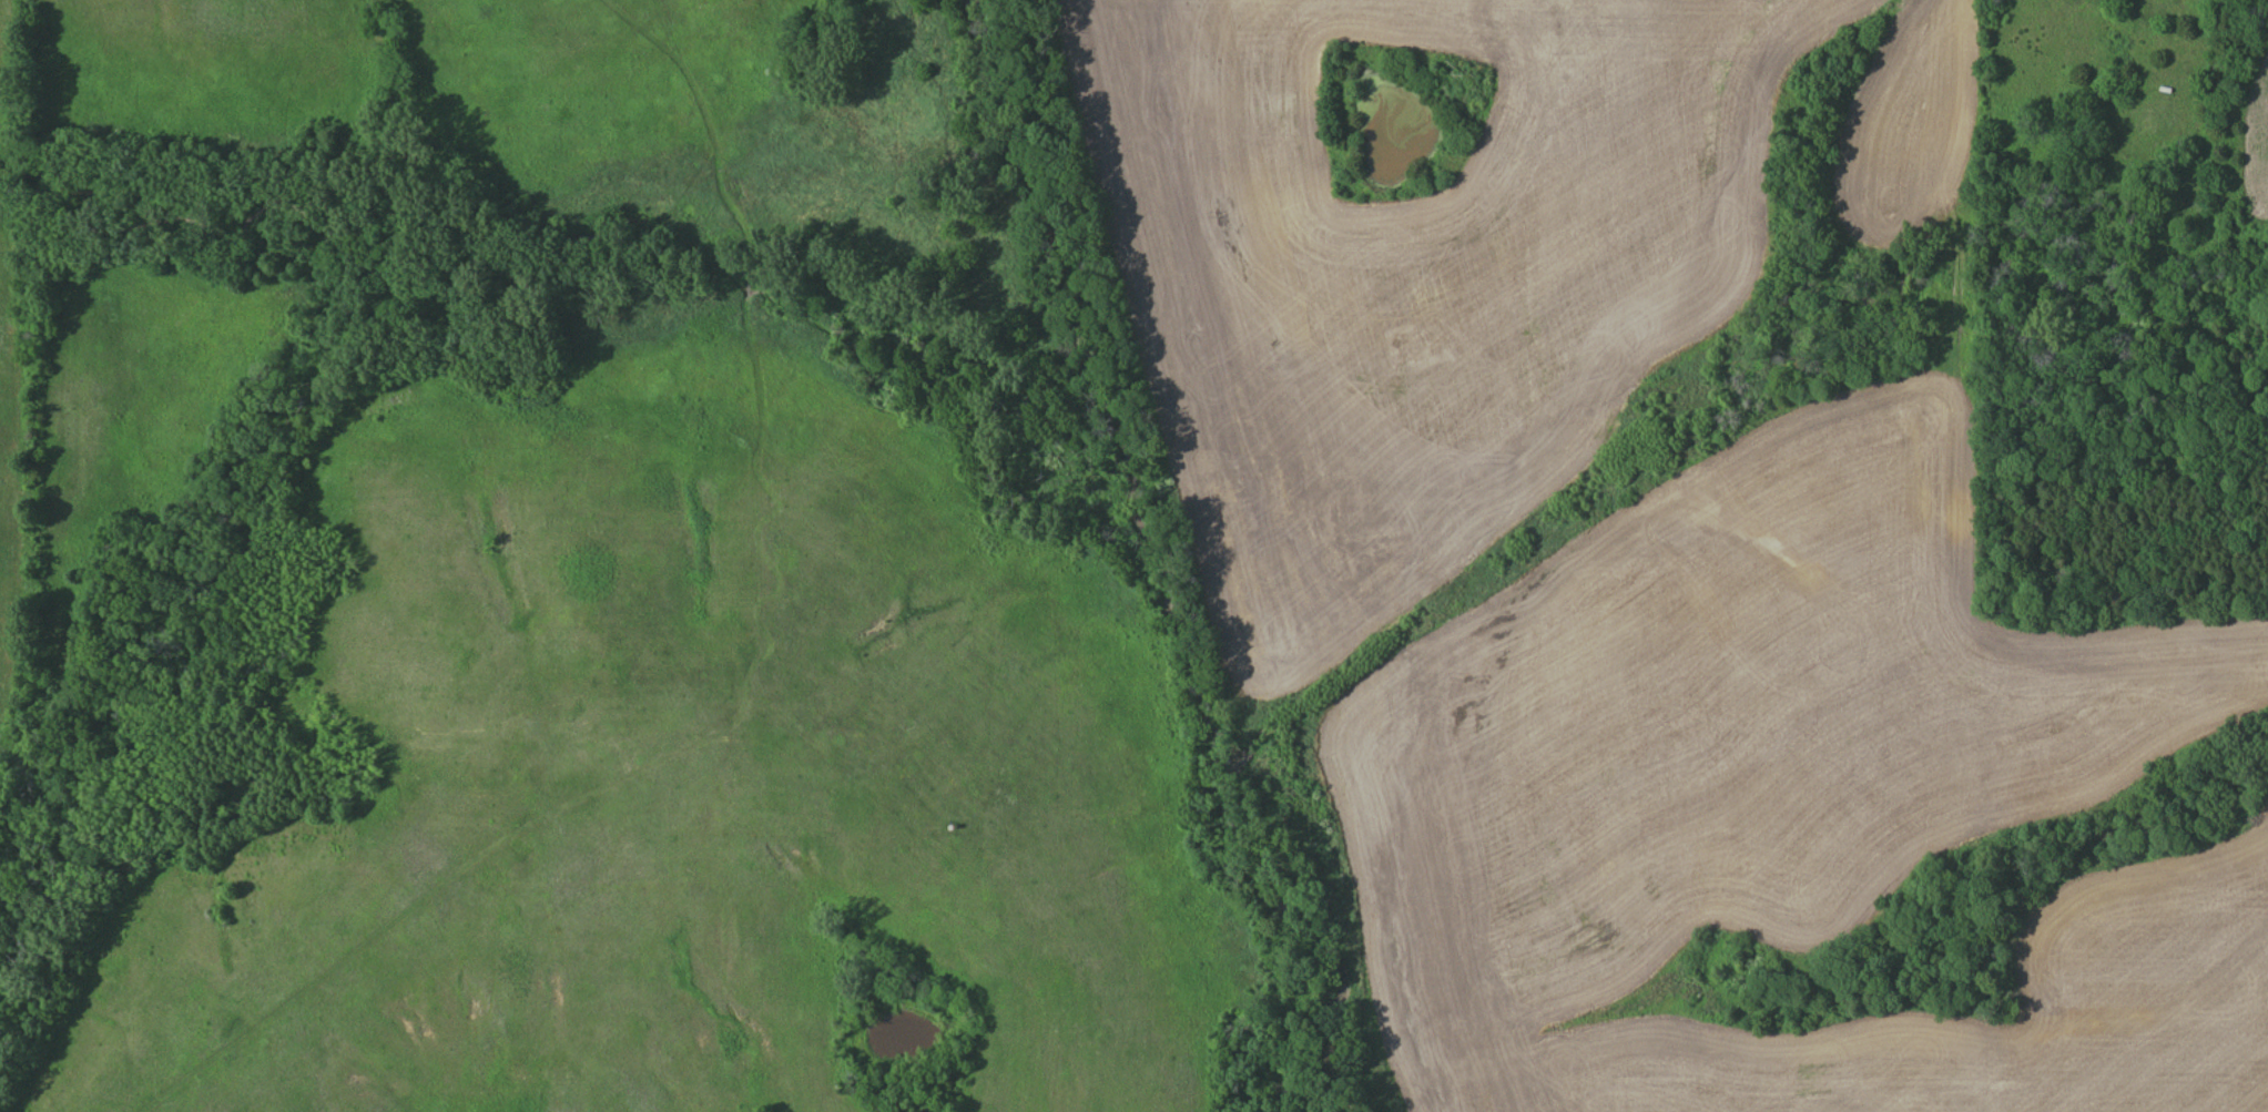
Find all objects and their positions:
road: (1133, 914)

